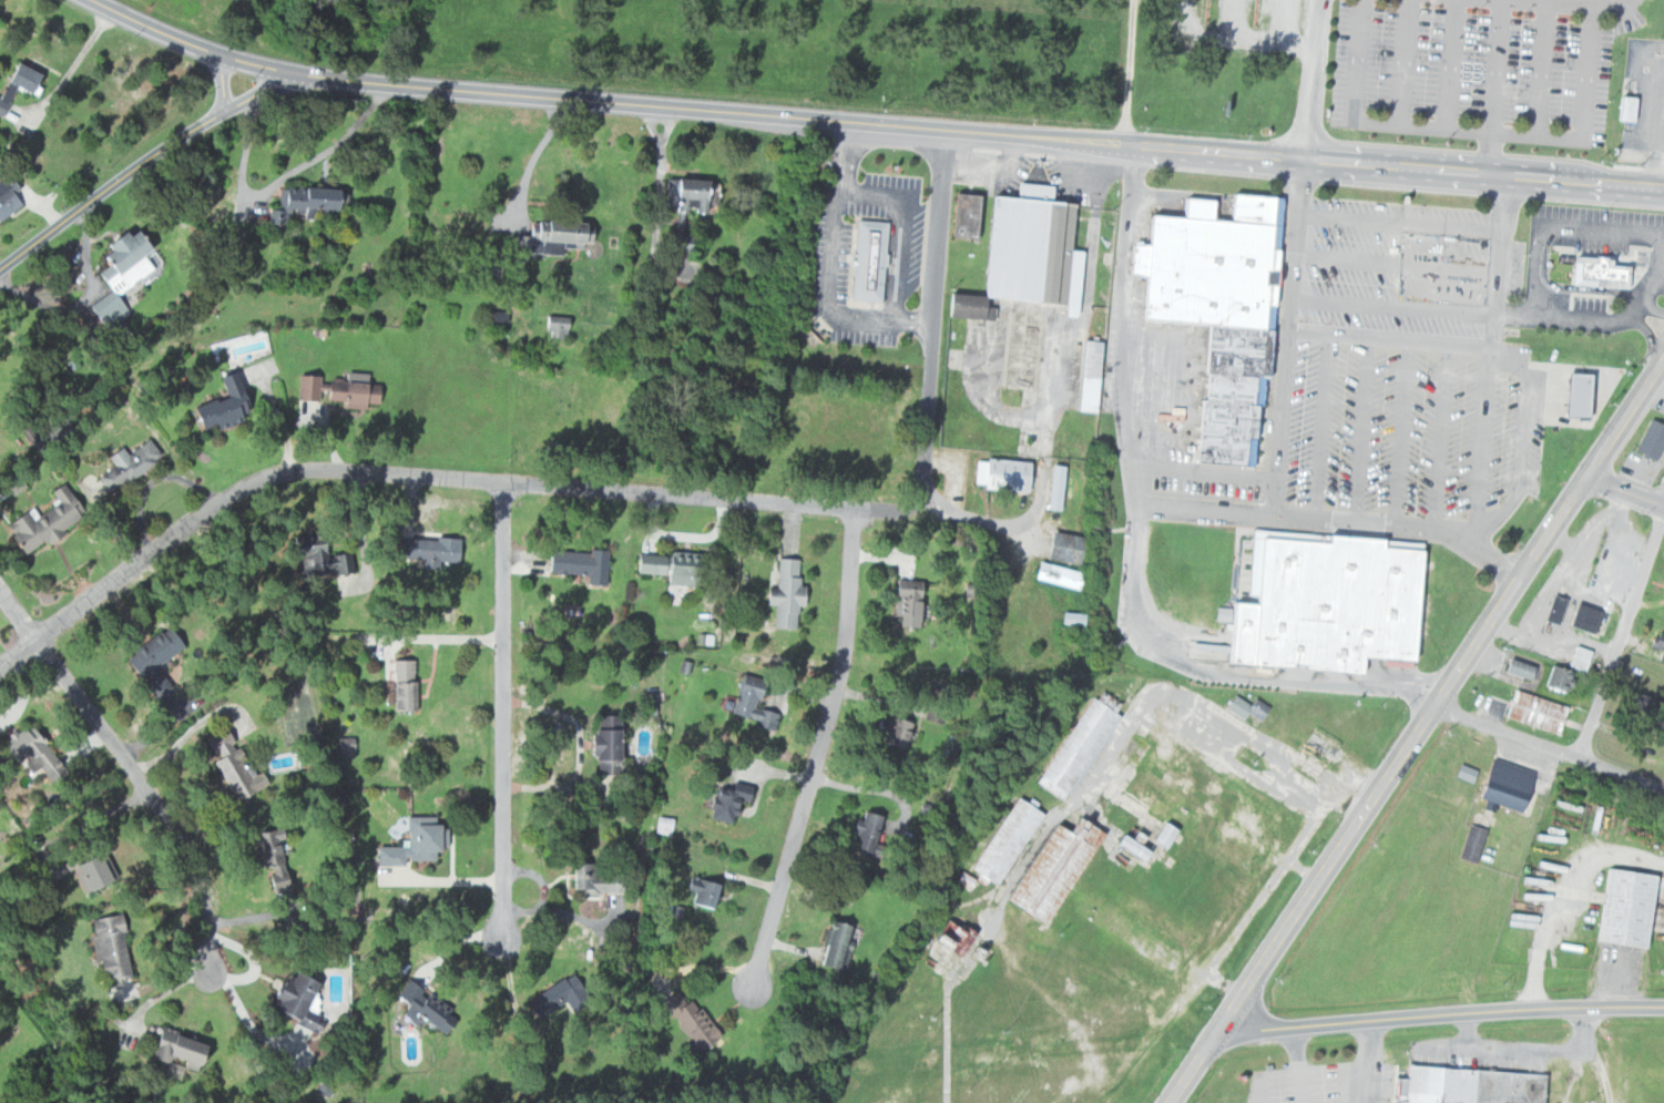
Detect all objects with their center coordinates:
road: (1565, 2)
road: (1603, 2)
parking lot: (1477, 69)
road: (1308, 80)
building: (23, 84)
road: (1493, 88)
road: (875, 124)
road: (134, 168)
building: (8, 188)
building: (686, 194)
building: (308, 201)
building: (962, 214)
building: (549, 239)
building: (137, 246)
building: (1023, 253)
building: (865, 259)
building: (1596, 269)
building: (111, 305)
building: (1213, 309)
building: (554, 325)
road: (1489, 359)
parking lot: (1407, 371)
building: (1085, 375)
building: (358, 391)
building: (1571, 394)
building: (231, 407)
building: (1648, 439)
building: (132, 464)
road: (1272, 471)
building: (1000, 473)
building: (1051, 487)
road: (614, 488)
road: (1626, 488)
road: (976, 515)
building: (50, 519)
building: (1060, 547)
building: (438, 549)
building: (327, 554)
building: (574, 561)
building: (662, 566)
building: (1052, 574)
building: (1662, 588)
building: (783, 593)
building: (901, 596)
building: (1319, 600)
building: (1552, 609)
building: (1581, 617)
road: (1622, 631)
building: (1657, 643)
building: (159, 652)
building: (1578, 657)
building: (1517, 667)
building: (1556, 678)
building: (408, 683)
building: (747, 703)
road: (502, 706)
building: (1245, 707)
building: (1533, 711)
building: (1647, 711)
building: (892, 733)
road: (1420, 733)
building: (1075, 743)
building: (615, 744)
road: (1550, 747)
road: (818, 748)
building: (38, 749)
building: (238, 765)
road: (130, 772)
building: (1502, 784)
building: (733, 801)
building: (874, 831)
building: (1161, 835)
building: (1001, 841)
building: (421, 842)
building: (1470, 842)
building: (1049, 868)
building: (102, 870)
building: (600, 878)
building: (280, 880)
building: (1622, 907)
building: (840, 942)
building: (114, 944)
building: (299, 992)
building: (430, 1009)
road: (1441, 1014)
building: (692, 1021)
building: (186, 1049)
building: (1464, 1085)

